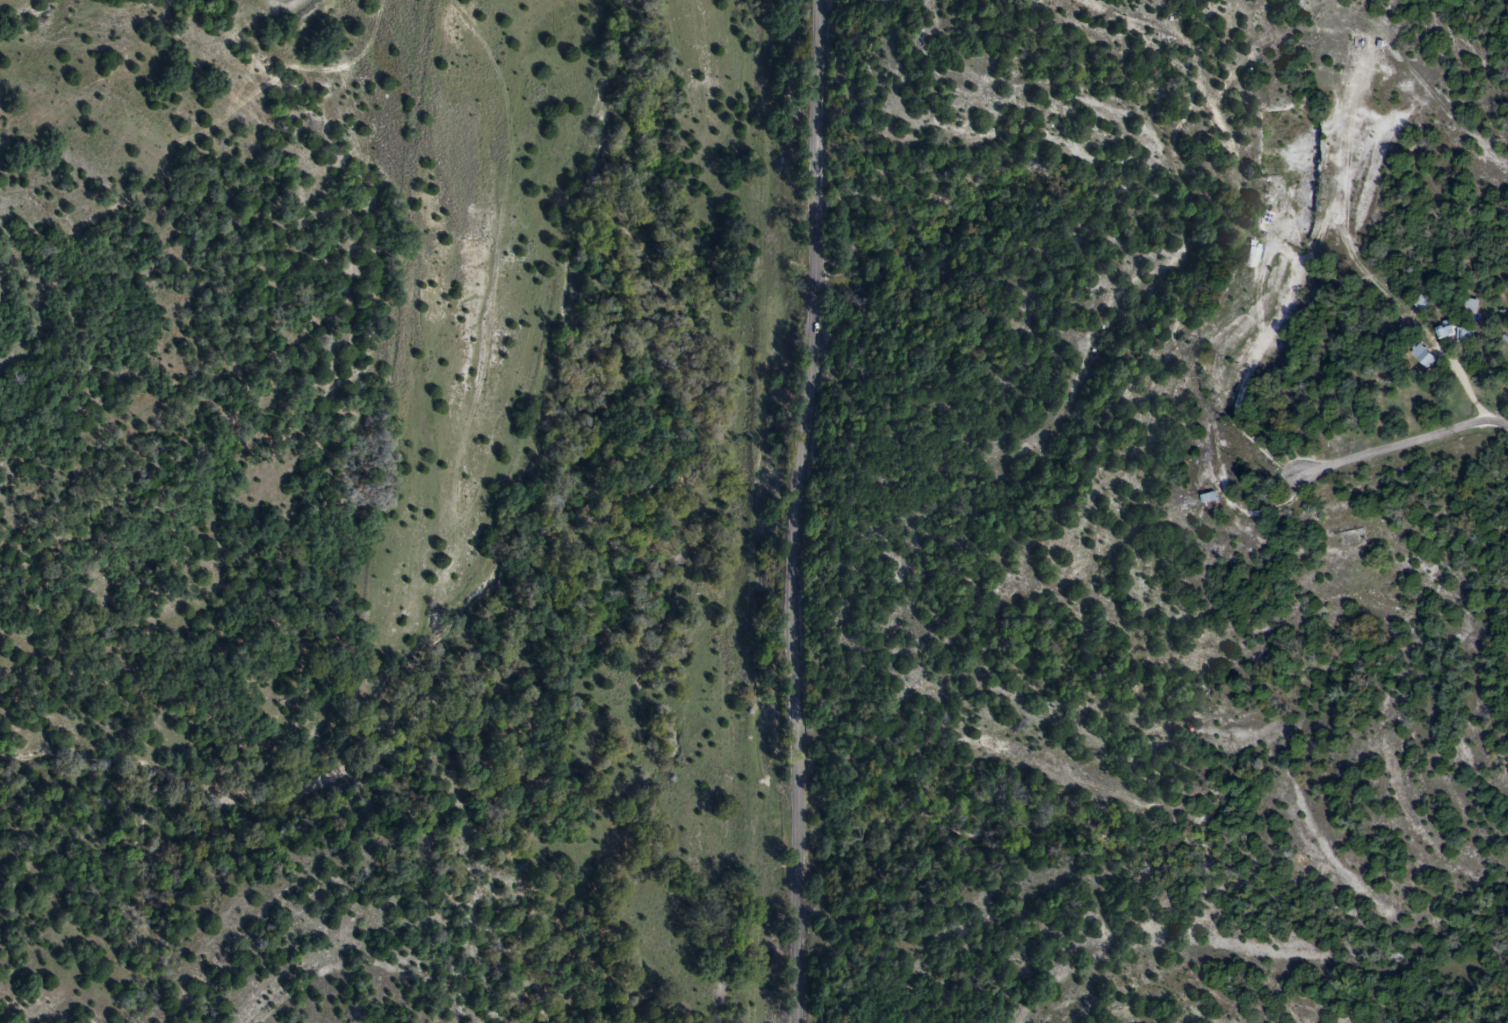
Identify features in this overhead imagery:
building: (1418, 304)
building: (1469, 307)
building: (1442, 330)
building: (1462, 334)
building: (1420, 356)
road: (1412, 443)
building: (1211, 501)
road: (807, 511)

